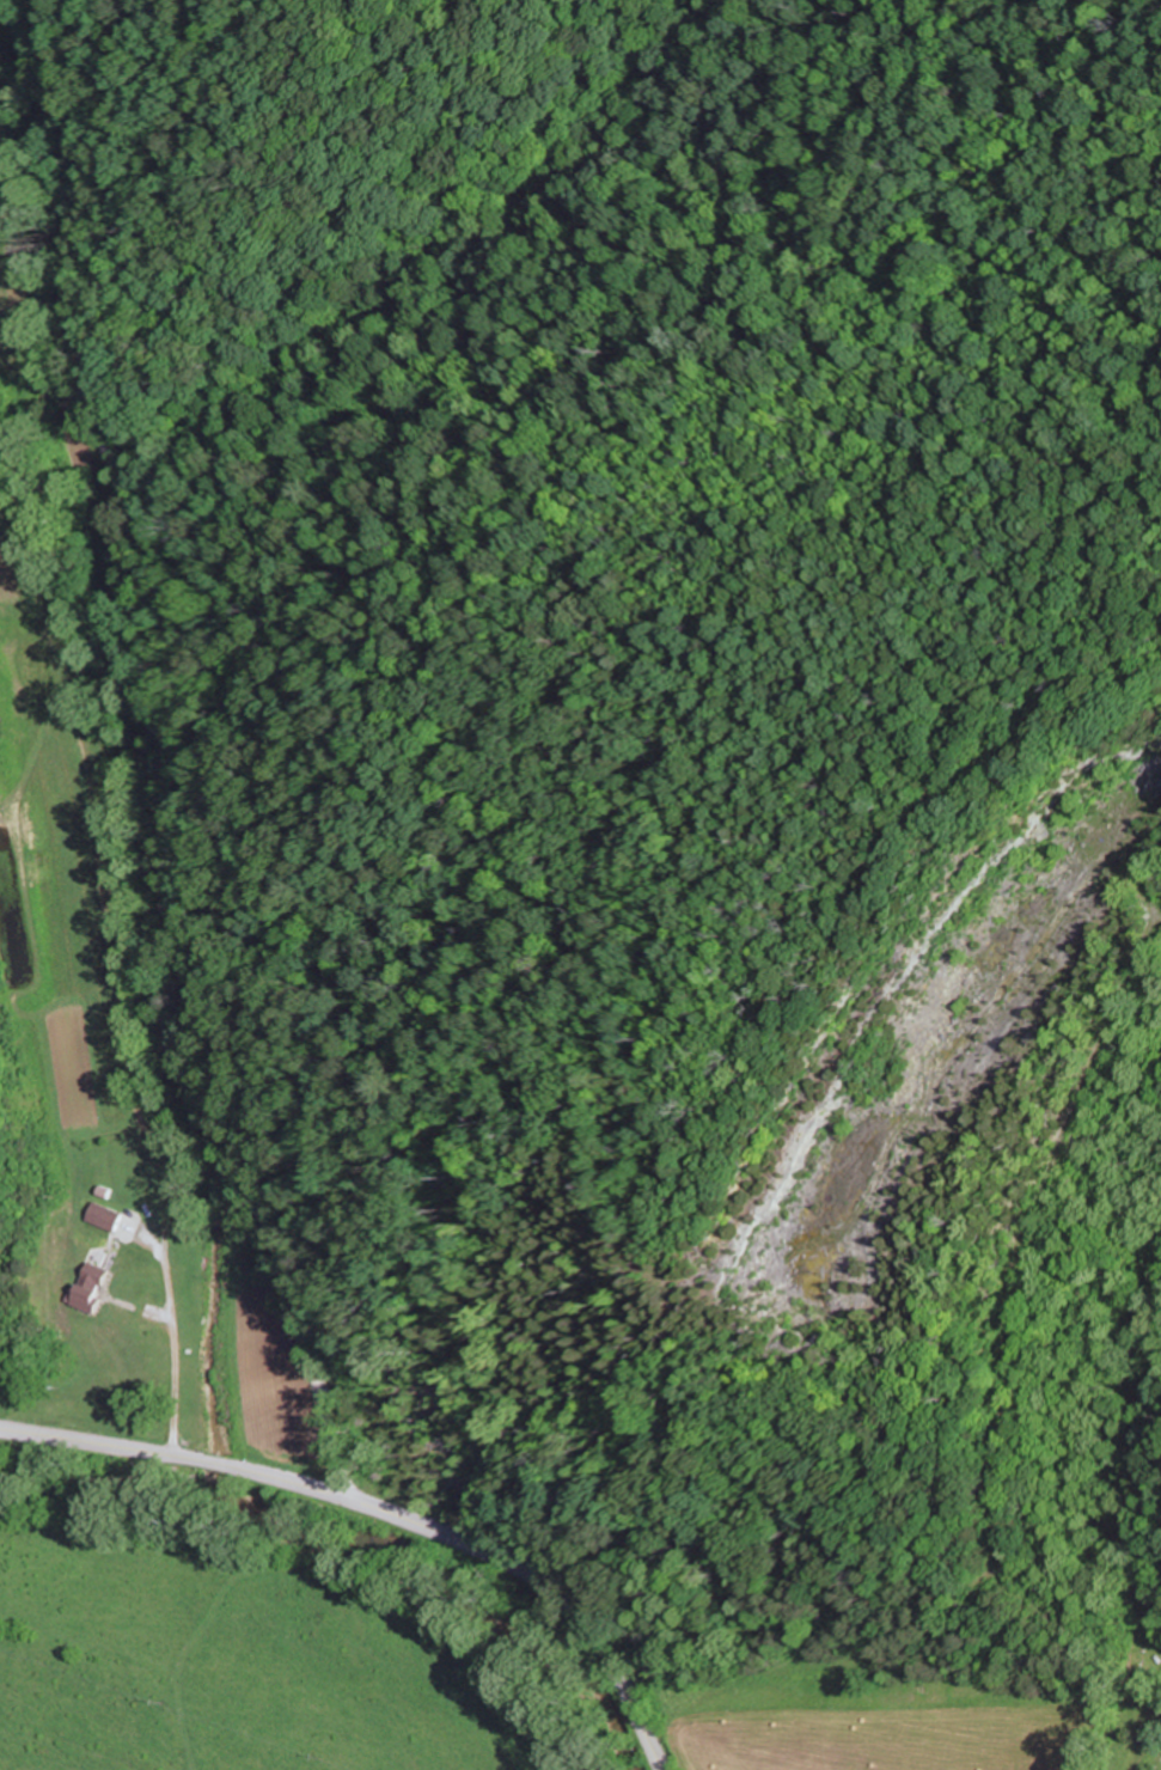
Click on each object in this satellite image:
road: (149, 756)
building: (109, 1215)
building: (102, 1287)
road: (386, 1510)

